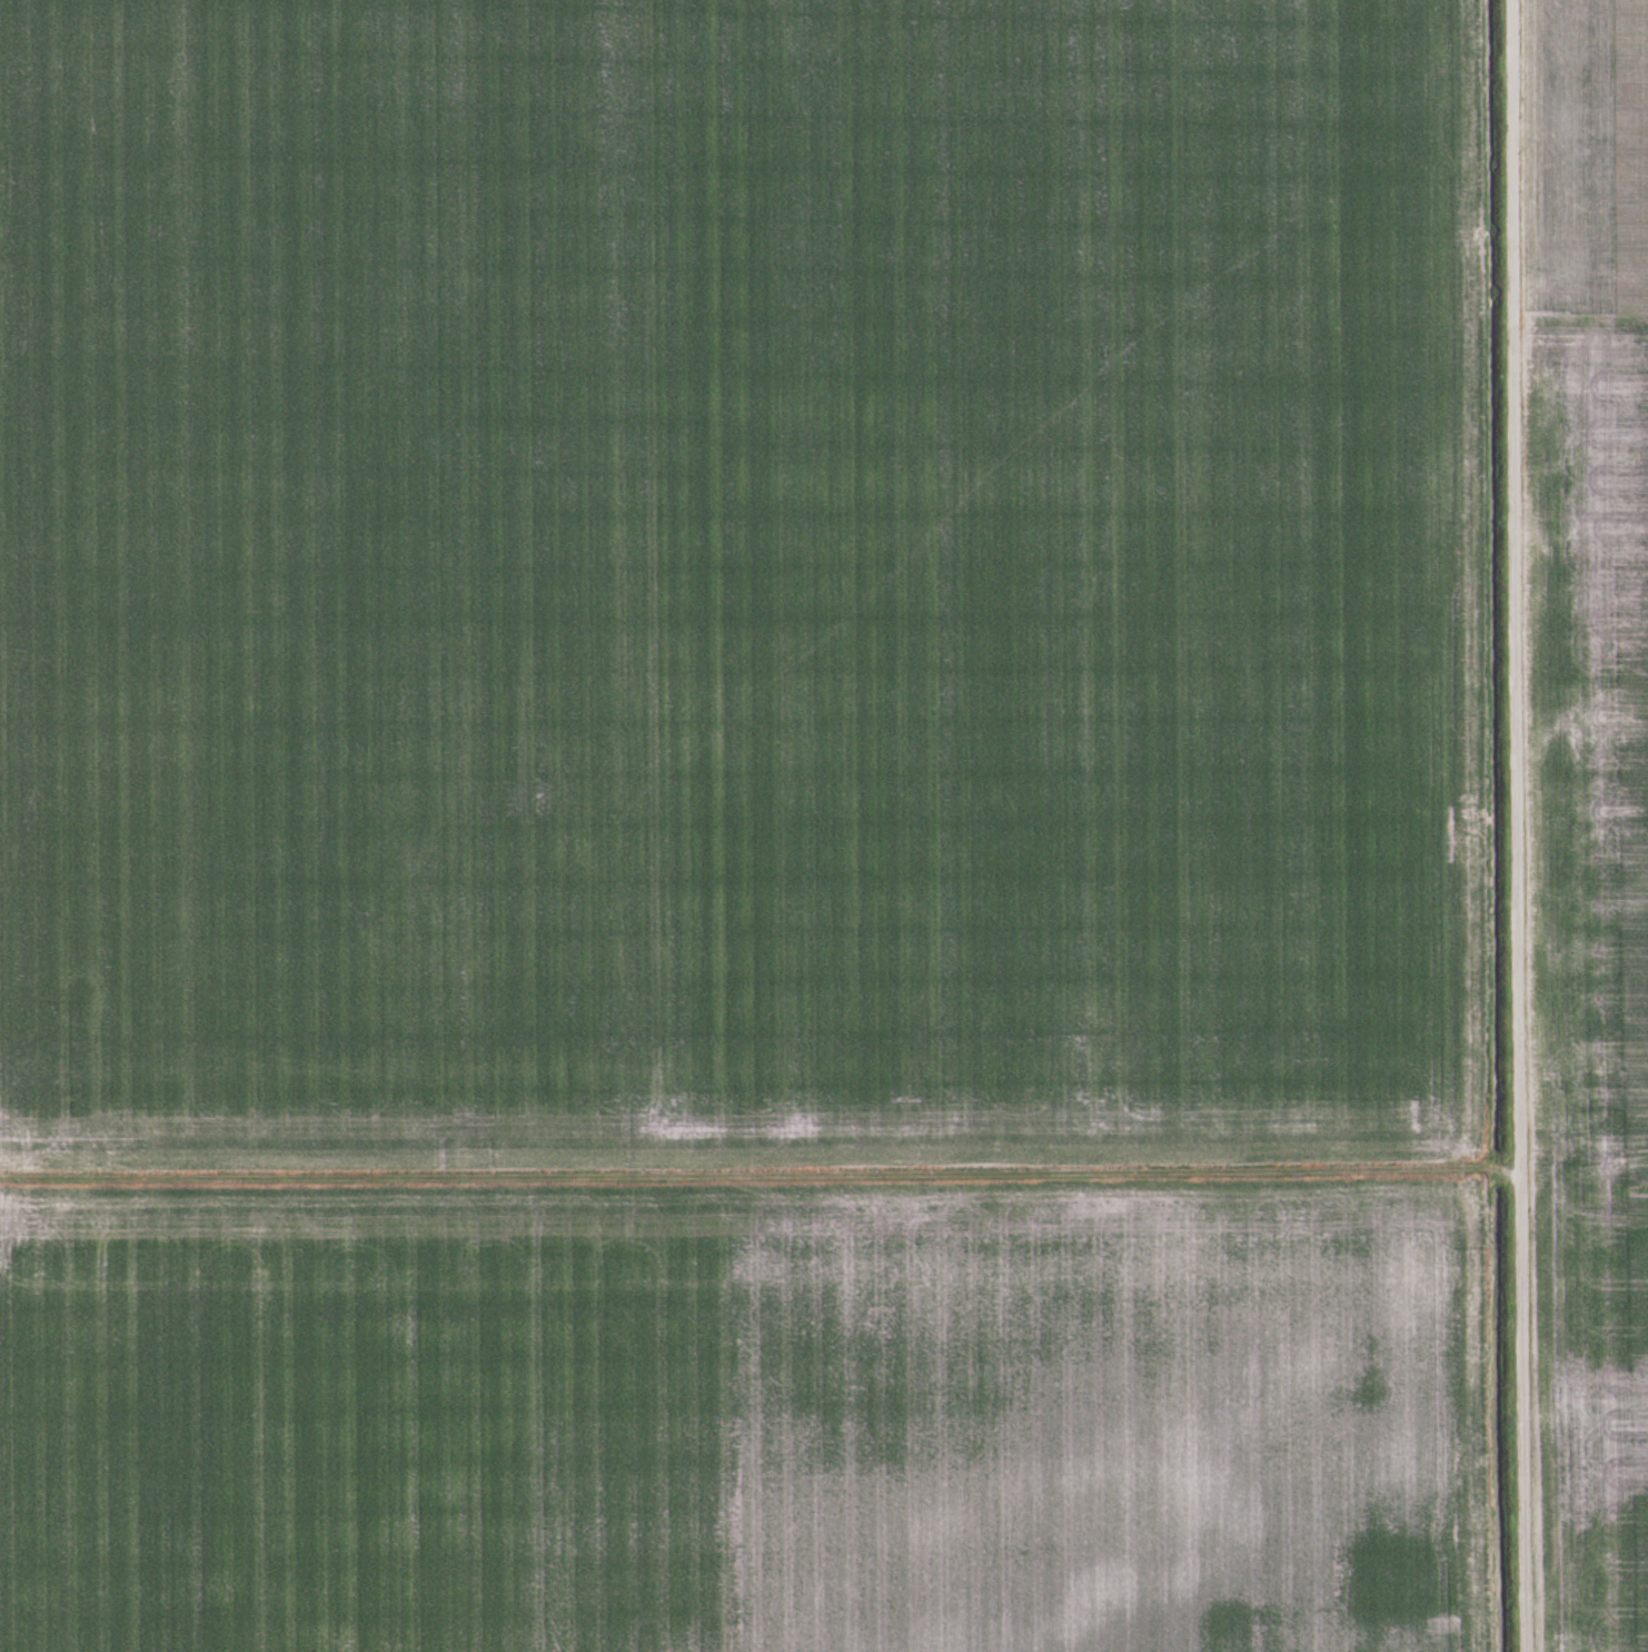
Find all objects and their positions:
crop: (1587, 808)
road: (1516, 825)
crop: (744, 827)

